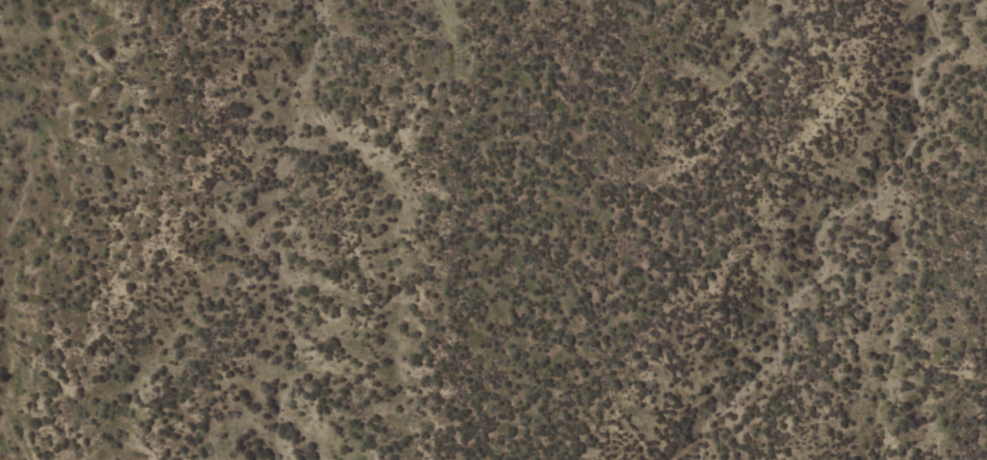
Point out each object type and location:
road: (694, 439)

